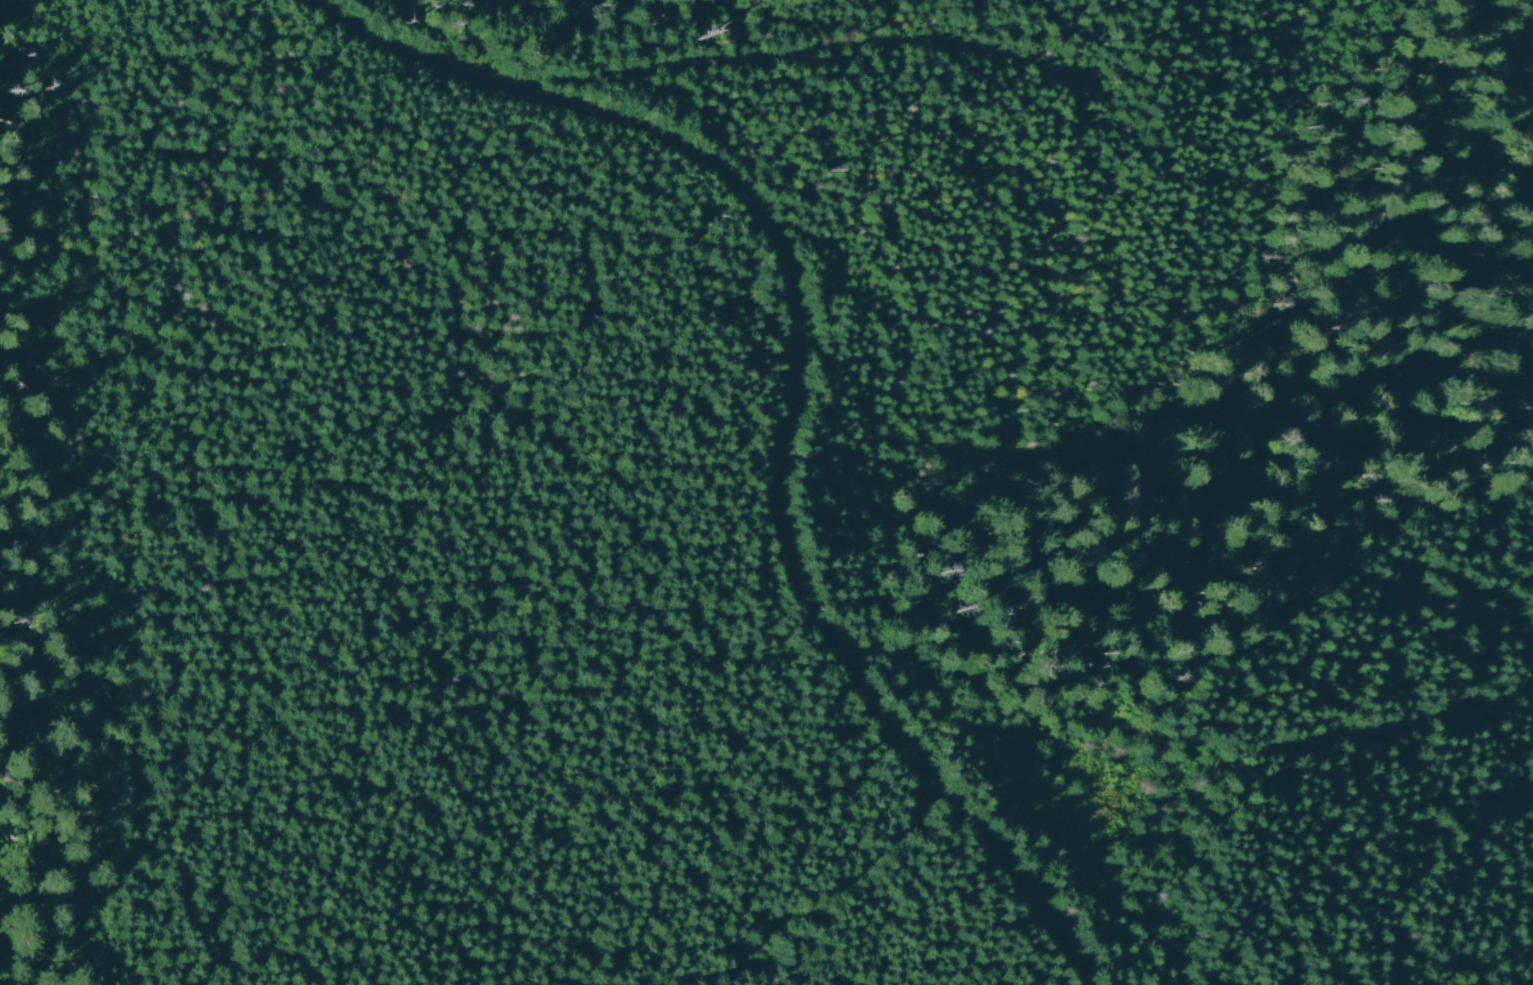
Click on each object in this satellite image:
road: (800, 49)
road: (800, 390)

